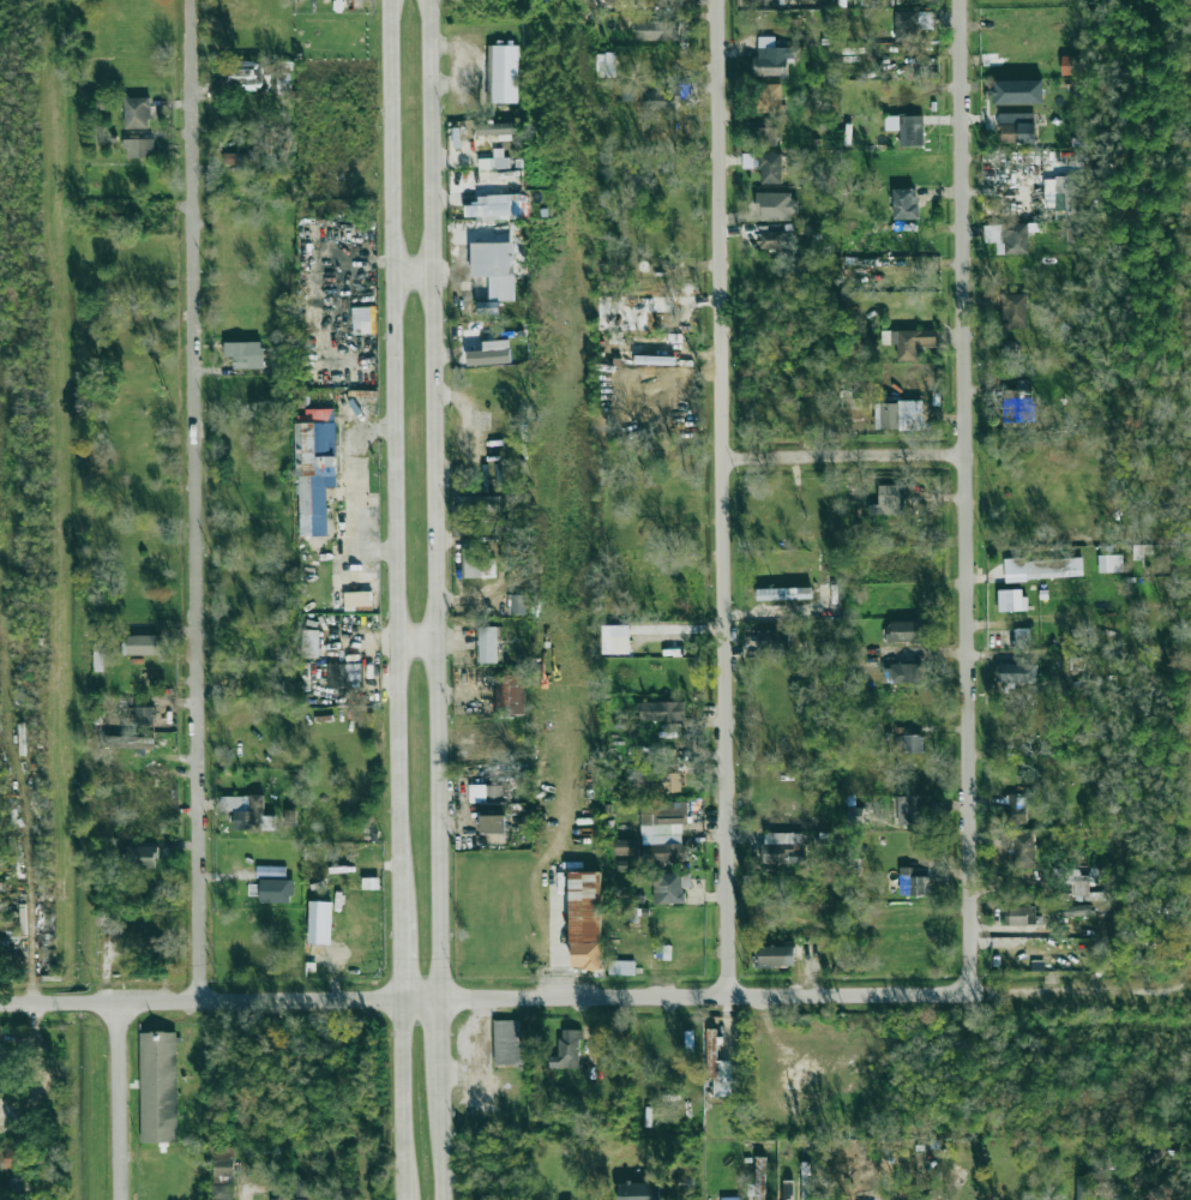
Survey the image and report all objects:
building: (772, 2)
building: (912, 24)
building: (656, 30)
building: (771, 58)
building: (606, 64)
building: (1071, 65)
building: (504, 73)
building: (1018, 91)
building: (628, 92)
building: (769, 97)
building: (660, 100)
building: (137, 113)
building: (495, 127)
building: (1017, 127)
building: (907, 128)
building: (765, 136)
building: (139, 148)
building: (239, 158)
building: (770, 168)
building: (1067, 194)
building: (904, 203)
building: (494, 206)
building: (776, 206)
building: (1072, 234)
building: (1007, 236)
building: (771, 240)
building: (495, 268)
road: (414, 275)
building: (488, 307)
building: (1013, 311)
building: (909, 341)
building: (491, 353)
building: (246, 354)
building: (850, 406)
building: (1018, 406)
building: (898, 415)
road: (850, 455)
road: (395, 461)
building: (314, 468)
road: (969, 498)
road: (730, 499)
road: (433, 500)
building: (886, 500)
road: (198, 502)
building: (479, 504)
building: (464, 529)
building: (1138, 552)
building: (1109, 563)
building: (476, 565)
building: (1043, 568)
building: (784, 593)
building: (1011, 599)
building: (518, 604)
building: (903, 631)
building: (1021, 637)
building: (619, 638)
building: (311, 642)
road: (415, 642)
building: (774, 643)
building: (144, 644)
building: (488, 644)
building: (98, 656)
building: (1016, 672)
building: (903, 673)
building: (343, 676)
building: (510, 694)
building: (662, 710)
building: (144, 715)
building: (128, 740)
building: (909, 743)
building: (498, 751)
building: (655, 780)
building: (489, 806)
building: (1018, 808)
building: (245, 809)
building: (910, 810)
building: (289, 815)
building: (855, 816)
building: (662, 832)
building: (625, 846)
building: (782, 847)
building: (1022, 848)
building: (142, 857)
road: (28, 866)
building: (271, 871)
building: (371, 882)
building: (913, 883)
building: (1081, 886)
building: (670, 887)
building: (276, 890)
building: (583, 907)
building: (1076, 910)
building: (1021, 916)
building: (320, 922)
road: (547, 932)
building: (774, 956)
road: (402, 962)
building: (621, 967)
road: (595, 1000)
road: (437, 1038)
building: (506, 1043)
building: (567, 1050)
building: (8, 1051)
building: (717, 1067)
building: (160, 1085)
road: (403, 1102)
road: (124, 1103)
road: (438, 1138)
building: (13, 1158)
building: (222, 1172)
building: (759, 1180)
building: (17, 1184)
building: (301, 1187)
building: (1082, 1188)
building: (639, 1190)
building: (788, 1190)
building: (309, 1195)
building: (730, 1198)
building: (279, 1199)
building: (333, 1199)
building: (936, 1199)

